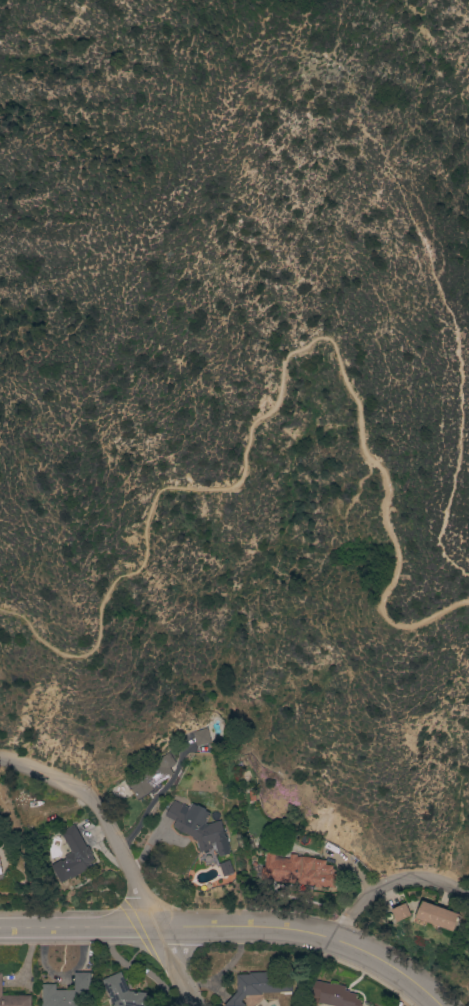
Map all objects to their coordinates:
road: (452, 345)
road: (279, 396)
building: (201, 739)
building: (151, 775)
building: (198, 826)
road: (124, 855)
building: (73, 856)
building: (1, 867)
building: (226, 868)
building: (298, 870)
road: (392, 882)
building: (401, 912)
building: (437, 916)
road: (223, 931)
building: (258, 986)
building: (66, 992)
building: (125, 993)
building: (334, 994)
building: (13, 998)

